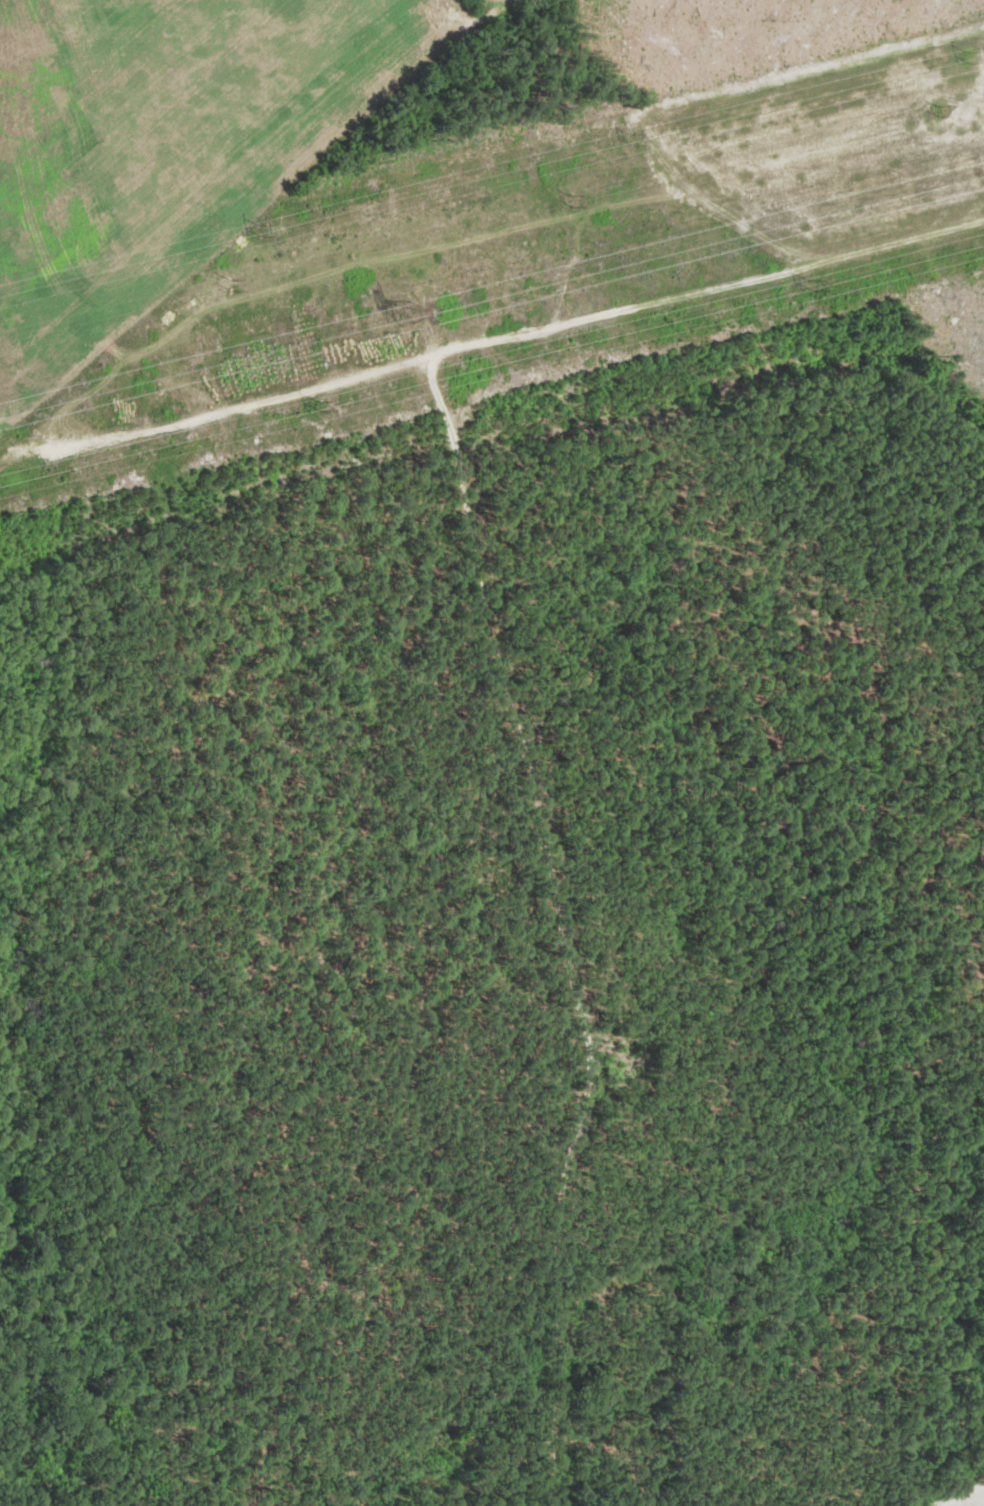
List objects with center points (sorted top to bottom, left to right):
power tower: (972, 60)
power tower: (940, 111)
power tower: (633, 142)
power tower: (573, 201)
power tower: (261, 232)
power tower: (813, 283)
power tower: (231, 285)
power tower: (409, 309)
power tower: (323, 402)

